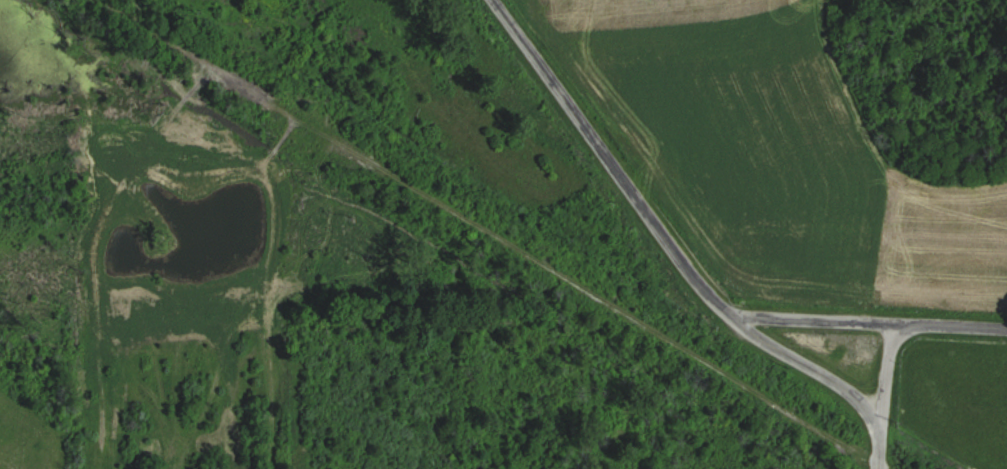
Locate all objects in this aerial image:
road: (656, 228)
road: (871, 309)
road: (881, 357)
road: (875, 436)

